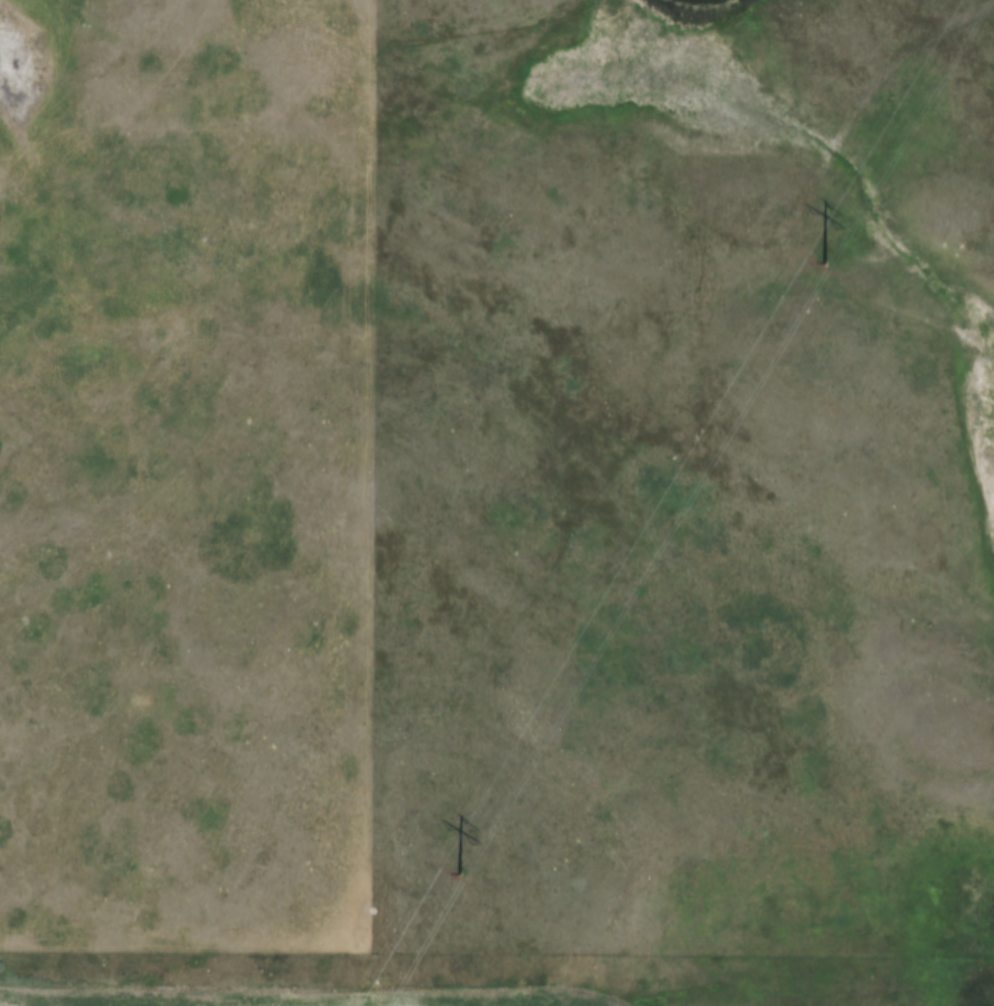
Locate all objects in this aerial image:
power tower: (820, 246)
power tower: (449, 856)

